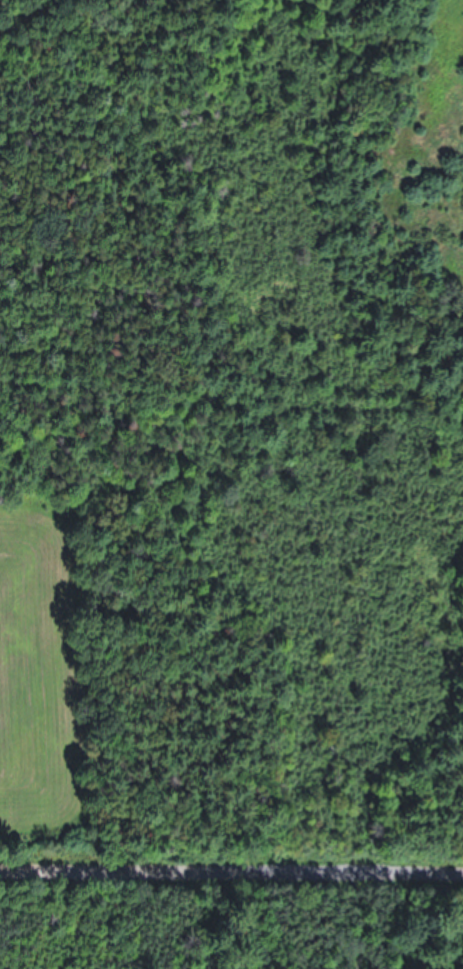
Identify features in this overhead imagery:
road: (231, 876)

